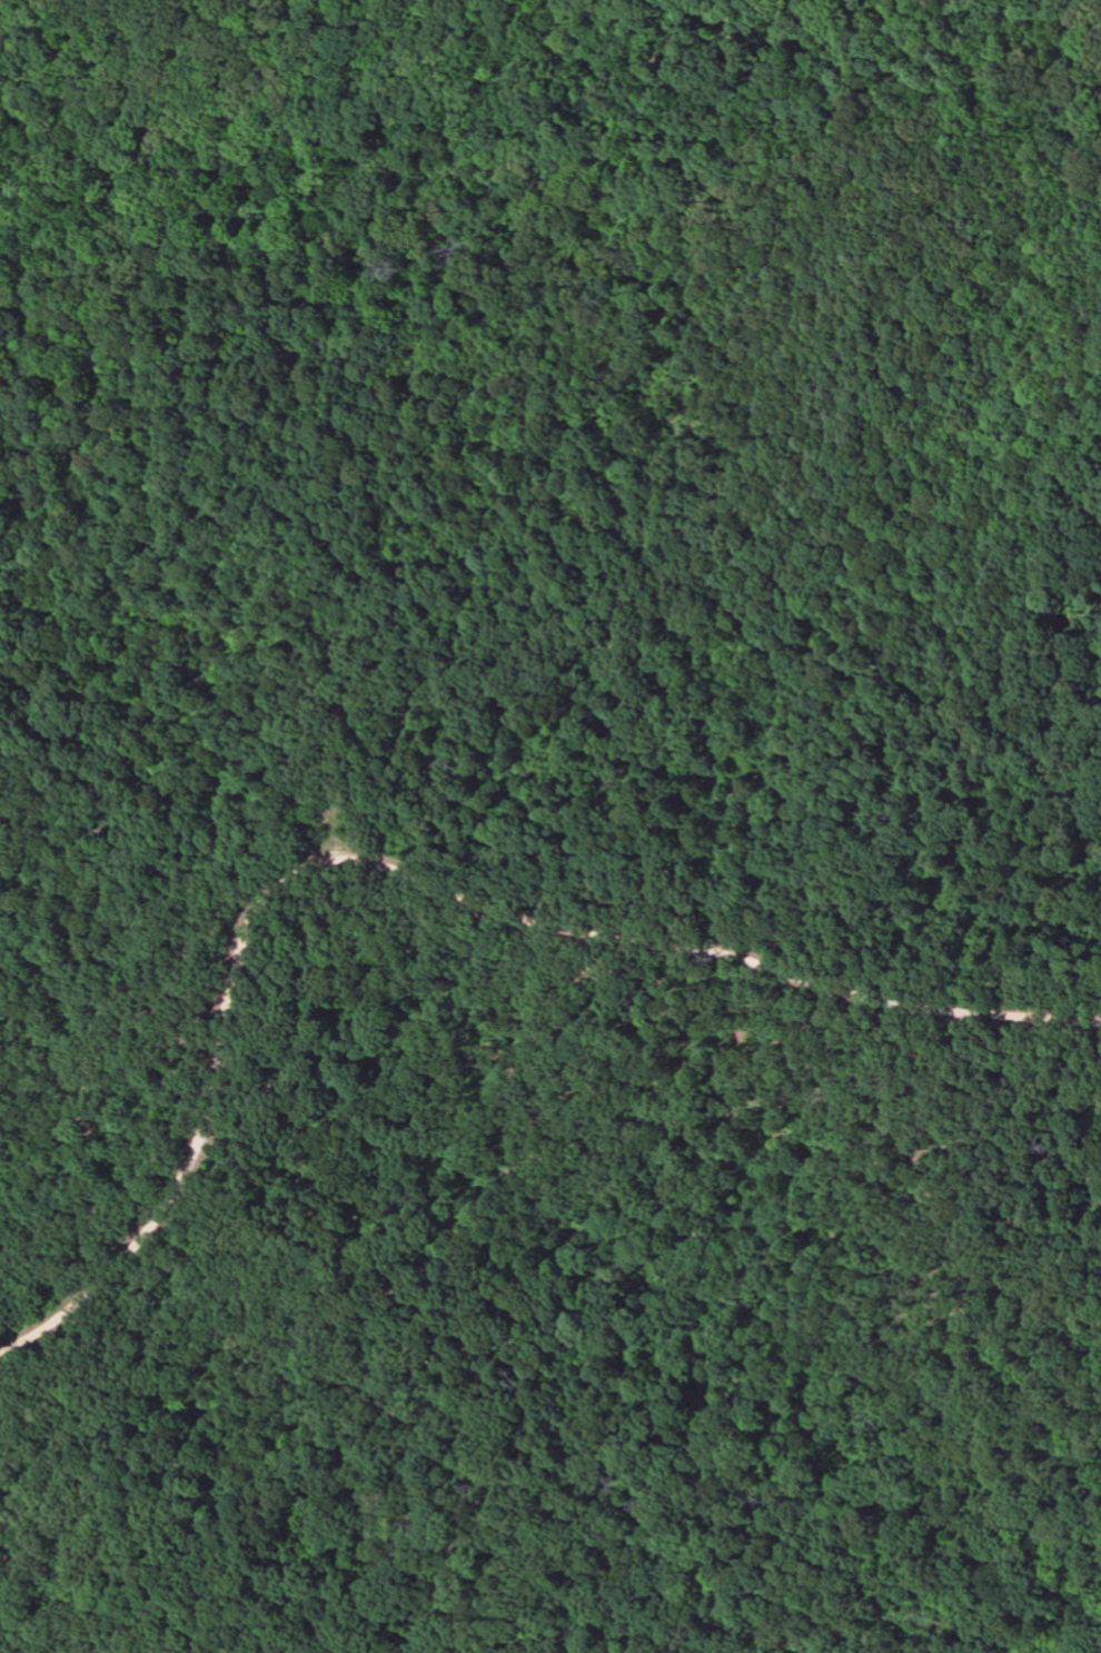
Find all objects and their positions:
road: (410, 880)

